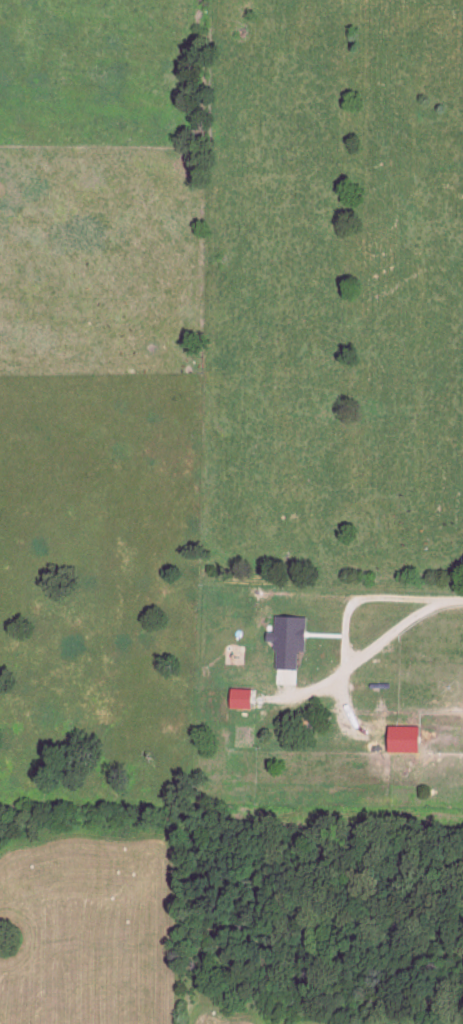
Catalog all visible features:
road: (460, 602)
road: (346, 645)

